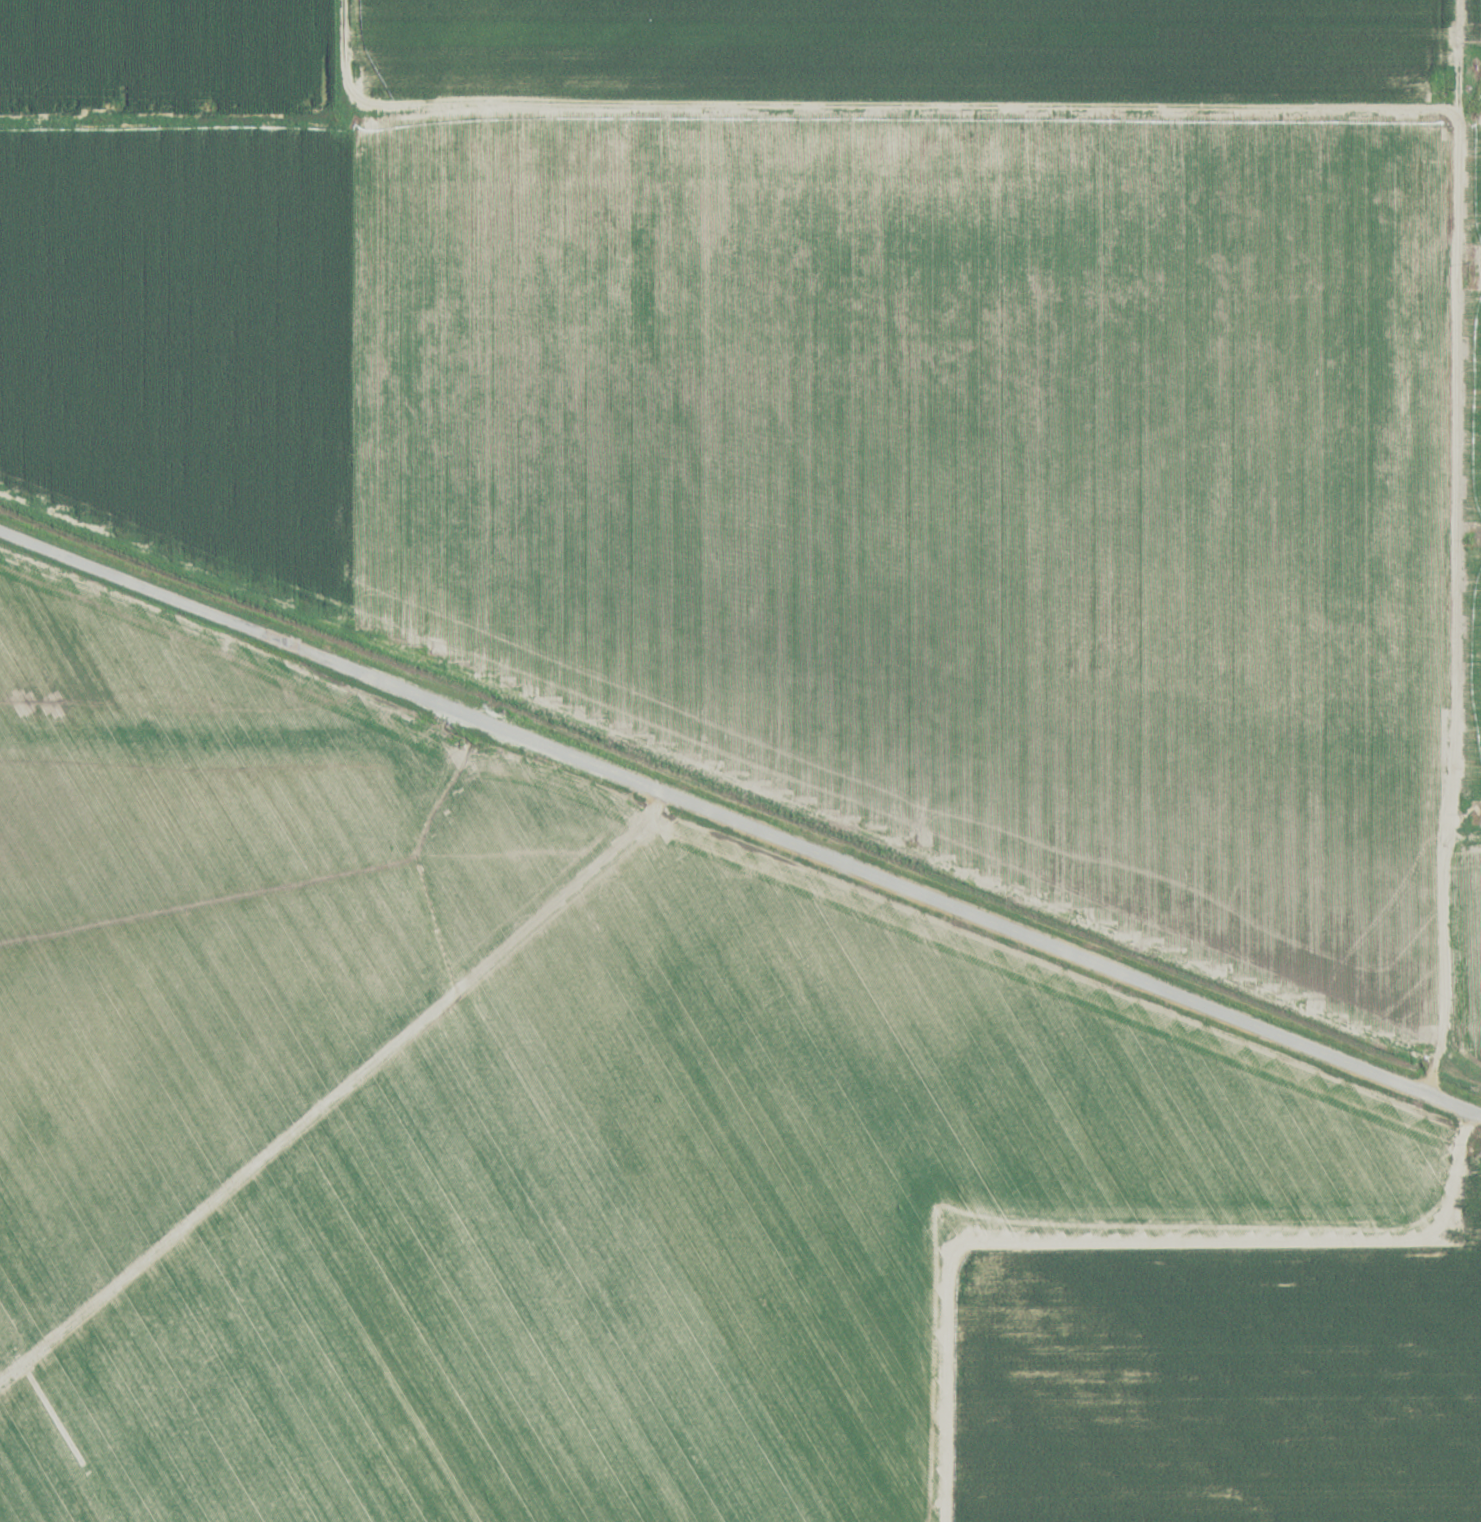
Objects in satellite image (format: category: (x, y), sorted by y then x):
road: (727, 107)
road: (1452, 550)
road: (232, 624)
road: (1464, 822)
road: (948, 907)
road: (334, 1089)
road: (1457, 1108)

